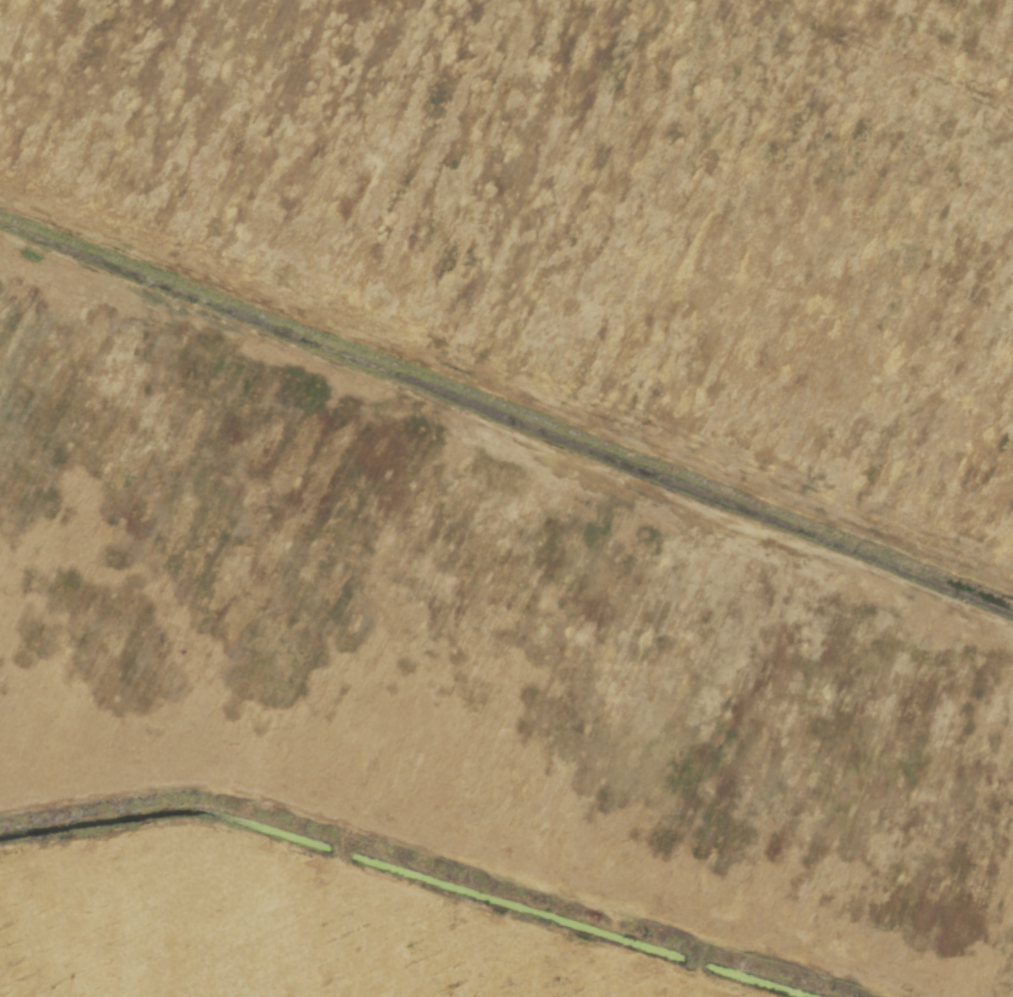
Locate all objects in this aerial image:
crop: (273, 931)

